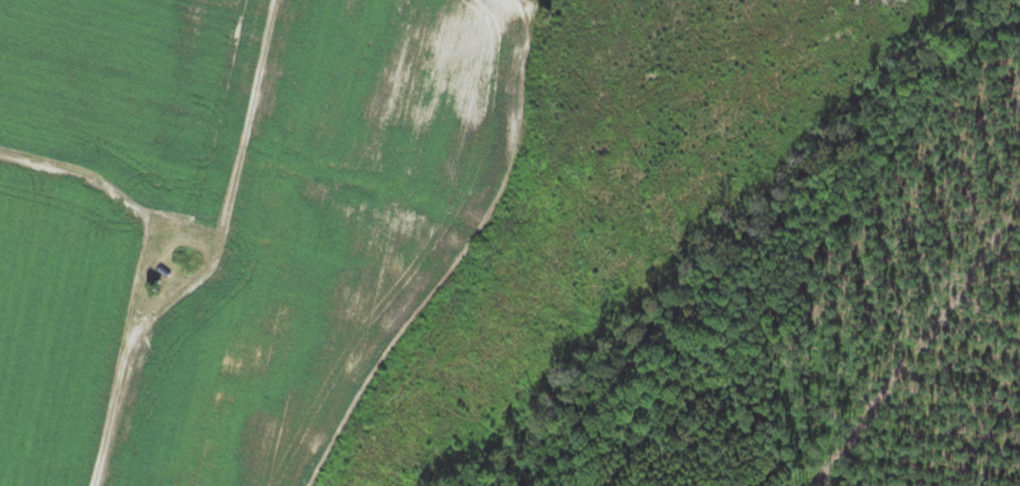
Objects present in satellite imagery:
road: (75, 243)

